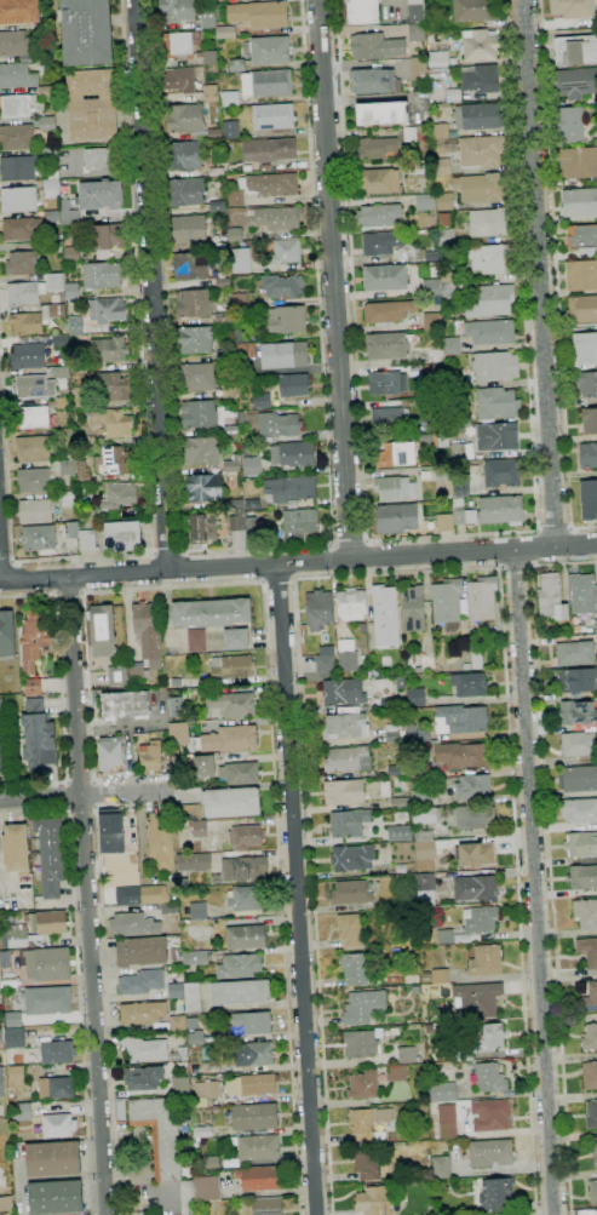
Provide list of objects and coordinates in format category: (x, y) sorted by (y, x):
building: (573, 8)
building: (472, 10)
building: (176, 11)
building: (415, 11)
building: (18, 12)
building: (362, 12)
building: (259, 15)
building: (46, 18)
building: (207, 21)
building: (434, 27)
building: (42, 29)
building: (87, 31)
building: (225, 33)
building: (415, 33)
building: (15, 44)
building: (179, 45)
building: (375, 46)
building: (480, 46)
building: (575, 50)
building: (270, 51)
building: (207, 57)
building: (437, 59)
building: (236, 65)
building: (418, 69)
building: (437, 74)
building: (16, 76)
building: (480, 79)
building: (179, 80)
building: (374, 81)
building: (575, 82)
building: (265, 84)
building: (45, 92)
building: (211, 94)
building: (453, 96)
building: (229, 99)
building: (15, 105)
building: (92, 105)
building: (381, 113)
building: (477, 116)
building: (272, 118)
building: (185, 120)
building: (46, 122)
building: (569, 125)
building: (230, 130)
building: (214, 133)
building: (408, 134)
building: (16, 137)
building: (442, 138)
building: (375, 148)
building: (268, 150)
building: (480, 151)
building: (48, 154)
building: (185, 155)
building: (101, 160)
building: (578, 162)
building: (265, 167)
building: (408, 167)
building: (441, 167)
building: (18, 168)
building: (216, 172)
building: (52, 176)
building: (378, 182)
building: (263, 188)
building: (481, 188)
building: (51, 189)
building: (186, 191)
building: (98, 195)
building: (18, 200)
building: (444, 201)
building: (425, 202)
building: (579, 202)
building: (217, 207)
building: (68, 213)
building: (378, 216)
building: (279, 218)
building: (446, 220)
building: (426, 222)
building: (488, 223)
building: (21, 229)
building: (189, 229)
building: (235, 235)
building: (107, 236)
building: (446, 237)
building: (582, 240)
building: (219, 243)
building: (381, 243)
building: (53, 248)
building: (286, 252)
building: (71, 254)
building: (431, 257)
building: (489, 259)
building: (241, 260)
building: (21, 263)
building: (190, 267)
road: (539, 274)
building: (102, 275)
building: (447, 276)
building: (580, 276)
road: (556, 277)
road: (334, 279)
building: (385, 279)
building: (54, 281)
building: (222, 283)
road: (151, 285)
building: (282, 286)
building: (431, 287)
building: (71, 291)
building: (452, 291)
building: (24, 293)
building: (239, 300)
building: (436, 300)
building: (489, 302)
building: (191, 304)
building: (56, 310)
building: (107, 310)
building: (581, 310)
building: (388, 313)
building: (223, 317)
building: (243, 319)
building: (286, 320)
building: (432, 321)
building: (25, 323)
building: (75, 326)
building: (489, 332)
building: (242, 336)
building: (194, 340)
building: (59, 342)
building: (386, 346)
building: (452, 346)
building: (584, 349)
building: (108, 350)
building: (245, 351)
building: (224, 354)
building: (283, 355)
building: (27, 356)
building: (494, 367)
building: (61, 372)
building: (196, 377)
building: (453, 380)
building: (388, 383)
building: (587, 384)
building: (113, 385)
building: (33, 386)
building: (293, 386)
building: (229, 392)
building: (78, 396)
building: (260, 401)
building: (63, 402)
building: (496, 403)
building: (199, 414)
building: (31, 417)
building: (386, 419)
building: (465, 420)
building: (590, 420)
building: (113, 423)
building: (277, 425)
building: (230, 430)
building: (65, 436)
building: (496, 437)
building: (81, 441)
building: (33, 448)
building: (201, 452)
road: (147, 453)
building: (457, 453)
building: (295, 454)
building: (397, 454)
building: (587, 455)
building: (111, 462)
building: (230, 466)
building: (251, 466)
building: (67, 468)
building: (80, 471)
building: (501, 474)
building: (34, 480)
building: (203, 488)
building: (289, 489)
building: (394, 489)
building: (119, 495)
building: (68, 498)
building: (587, 499)
building: (235, 504)
building: (252, 504)
building: (34, 511)
building: (490, 511)
building: (86, 515)
building: (396, 518)
building: (236, 522)
building: (443, 522)
building: (299, 523)
building: (202, 527)
building: (73, 529)
road: (553, 529)
building: (122, 537)
road: (447, 537)
building: (38, 538)
building: (86, 540)
road: (349, 540)
road: (252, 546)
road: (166, 550)
road: (74, 557)
road: (4, 561)
road: (10, 561)
road: (298, 562)
road: (516, 567)
road: (0, 568)
road: (403, 573)
road: (13, 575)
road: (279, 581)
road: (78, 584)
road: (18, 594)
road: (56, 594)
road: (68, 594)
road: (81, 594)
building: (582, 594)
building: (551, 597)
building: (481, 598)
building: (448, 603)
building: (350, 604)
building: (413, 609)
building: (317, 611)
building: (211, 613)
building: (384, 615)
building: (596, 627)
building: (147, 629)
building: (102, 630)
building: (6, 634)
building: (236, 638)
building: (33, 640)
building: (196, 641)
building: (575, 654)
building: (346, 655)
building: (325, 660)
building: (476, 660)
building: (231, 666)
building: (144, 669)
building: (576, 681)
building: (174, 682)
building: (400, 682)
building: (469, 684)
building: (31, 687)
road: (61, 693)
building: (343, 693)
building: (415, 698)
building: (125, 705)
building: (230, 705)
building: (1, 707)
building: (578, 713)
road: (269, 715)
building: (459, 720)
building: (346, 726)
building: (395, 733)
building: (415, 734)
building: (38, 735)
building: (225, 740)
building: (178, 744)
building: (578, 744)
building: (109, 755)
building: (150, 756)
building: (461, 756)
building: (0, 760)
building: (348, 760)
building: (202, 767)
building: (420, 769)
building: (394, 770)
building: (239, 773)
building: (578, 779)
road: (67, 783)
road: (81, 784)
road: (93, 784)
building: (415, 784)
building: (472, 787)
building: (384, 789)
building: (343, 792)
road: (69, 795)
road: (82, 795)
road: (93, 795)
building: (420, 798)
building: (230, 803)
building: (398, 803)
road: (81, 806)
road: (94, 807)
road: (69, 808)
building: (579, 810)
building: (186, 813)
building: (425, 815)
building: (473, 818)
building: (348, 824)
road: (140, 827)
building: (199, 829)
building: (110, 831)
building: (397, 833)
building: (423, 836)
building: (245, 837)
building: (160, 842)
building: (581, 844)
building: (15, 849)
building: (475, 854)
building: (51, 855)
building: (425, 856)
road: (549, 856)
building: (351, 859)
building: (193, 862)
building: (241, 869)
building: (400, 869)
building: (582, 877)
building: (214, 879)
building: (182, 882)
road: (533, 882)
road: (297, 889)
building: (424, 889)
building: (475, 890)
building: (350, 893)
road: (86, 895)
building: (140, 895)
building: (245, 899)
building: (168, 907)
building: (197, 911)
building: (585, 915)
building: (480, 919)
building: (47, 923)
building: (133, 925)
building: (350, 930)
building: (245, 936)
building: (444, 936)
building: (18, 938)
building: (142, 951)
building: (587, 952)
building: (195, 957)
building: (5, 961)
building: (484, 961)
building: (47, 964)
building: (237, 967)
building: (355, 968)
building: (440, 976)
road: (79, 979)
building: (411, 980)
building: (140, 982)
building: (8, 984)
road: (105, 988)
building: (174, 991)
building: (240, 992)
building: (193, 998)
building: (477, 999)
building: (589, 999)
building: (47, 1001)
building: (362, 1007)
building: (142, 1013)
building: (12, 1019)
building: (177, 1024)
building: (249, 1024)
building: (492, 1037)
building: (15, 1038)
building: (589, 1038)
building: (360, 1044)
building: (145, 1049)
road: (1, 1051)
building: (58, 1053)
building: (206, 1053)
building: (253, 1054)
building: (406, 1055)
building: (176, 1056)
road: (2, 1059)
building: (194, 1070)
building: (396, 1073)
building: (590, 1076)
building: (142, 1078)
building: (488, 1078)
building: (16, 1079)
building: (1, 1082)
building: (179, 1085)
building: (249, 1085)
building: (362, 1085)
building: (56, 1089)
building: (206, 1093)
building: (442, 1093)
building: (186, 1100)
building: (21, 1112)
building: (447, 1113)
building: (591, 1114)
building: (490, 1116)
building: (254, 1117)
building: (368, 1123)
building: (57, 1125)
building: (447, 1130)
building: (201, 1133)
building: (160, 1134)
building: (258, 1147)
building: (489, 1153)
building: (595, 1154)
building: (52, 1159)
building: (209, 1162)
building: (366, 1165)
building: (441, 1168)
building: (258, 1179)
building: (208, 1188)
building: (592, 1192)
building: (495, 1194)
building: (54, 1197)
building: (188, 1198)
building: (373, 1202)
building: (5, 1203)
building: (265, 1207)

